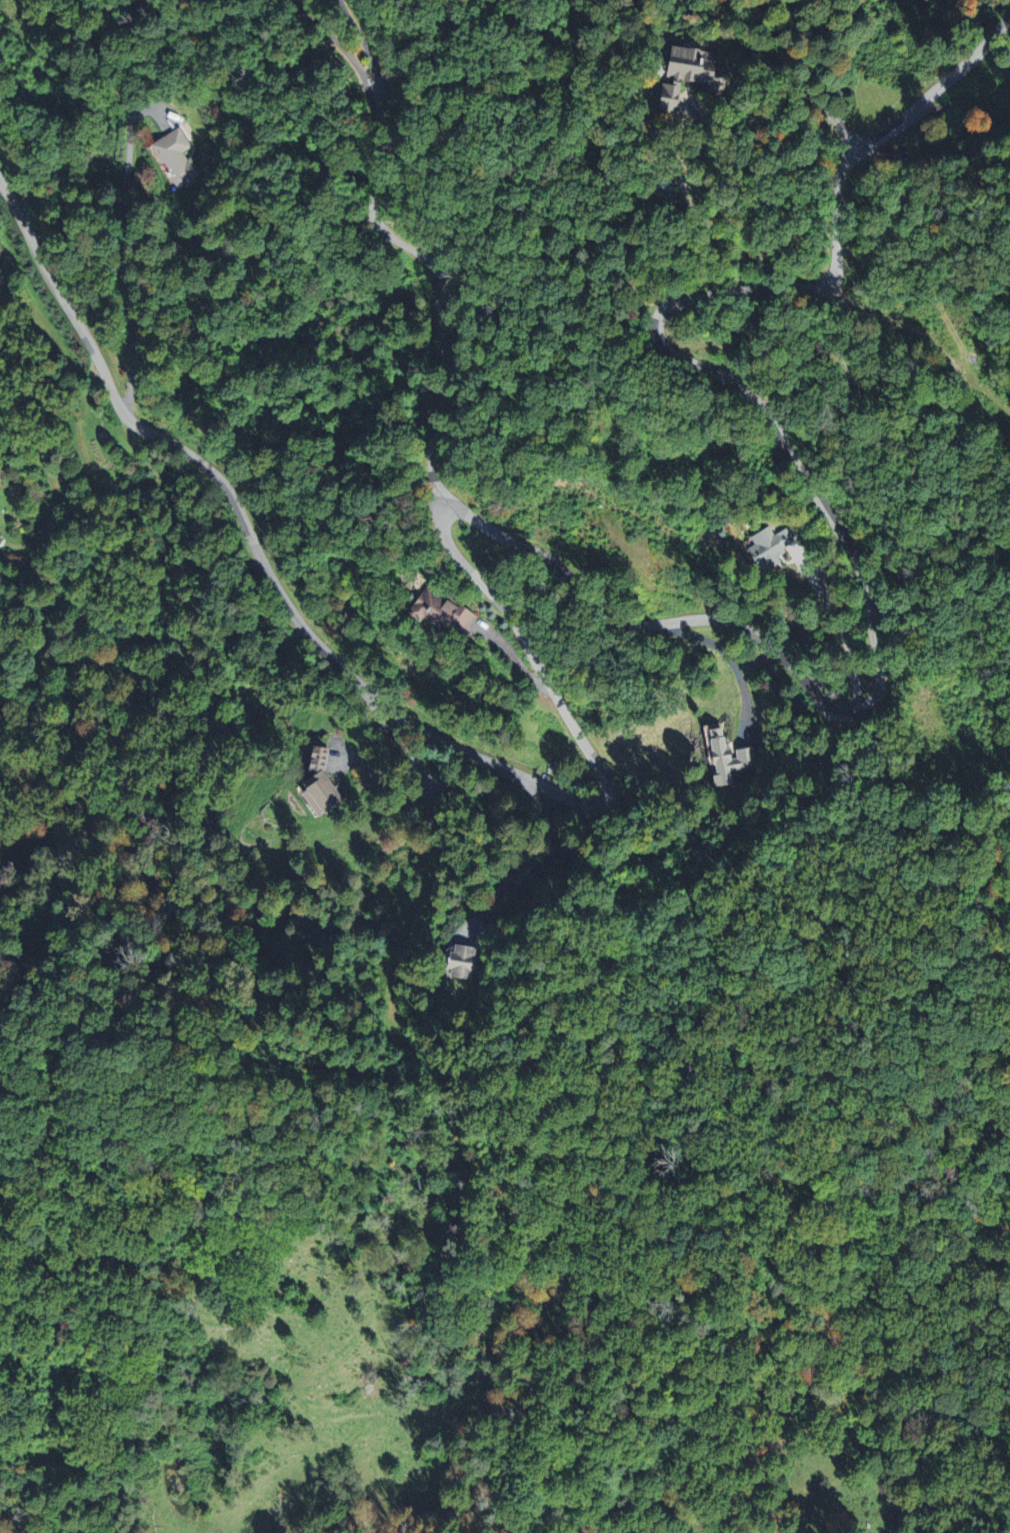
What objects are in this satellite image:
road: (346, 47)
building: (682, 72)
road: (938, 86)
road: (788, 107)
building: (174, 157)
road: (127, 254)
road: (437, 293)
road: (923, 337)
building: (768, 545)
road: (851, 568)
building: (441, 611)
road: (356, 681)
building: (722, 755)
building: (315, 783)
road: (536, 860)
road: (426, 880)
building: (458, 960)

